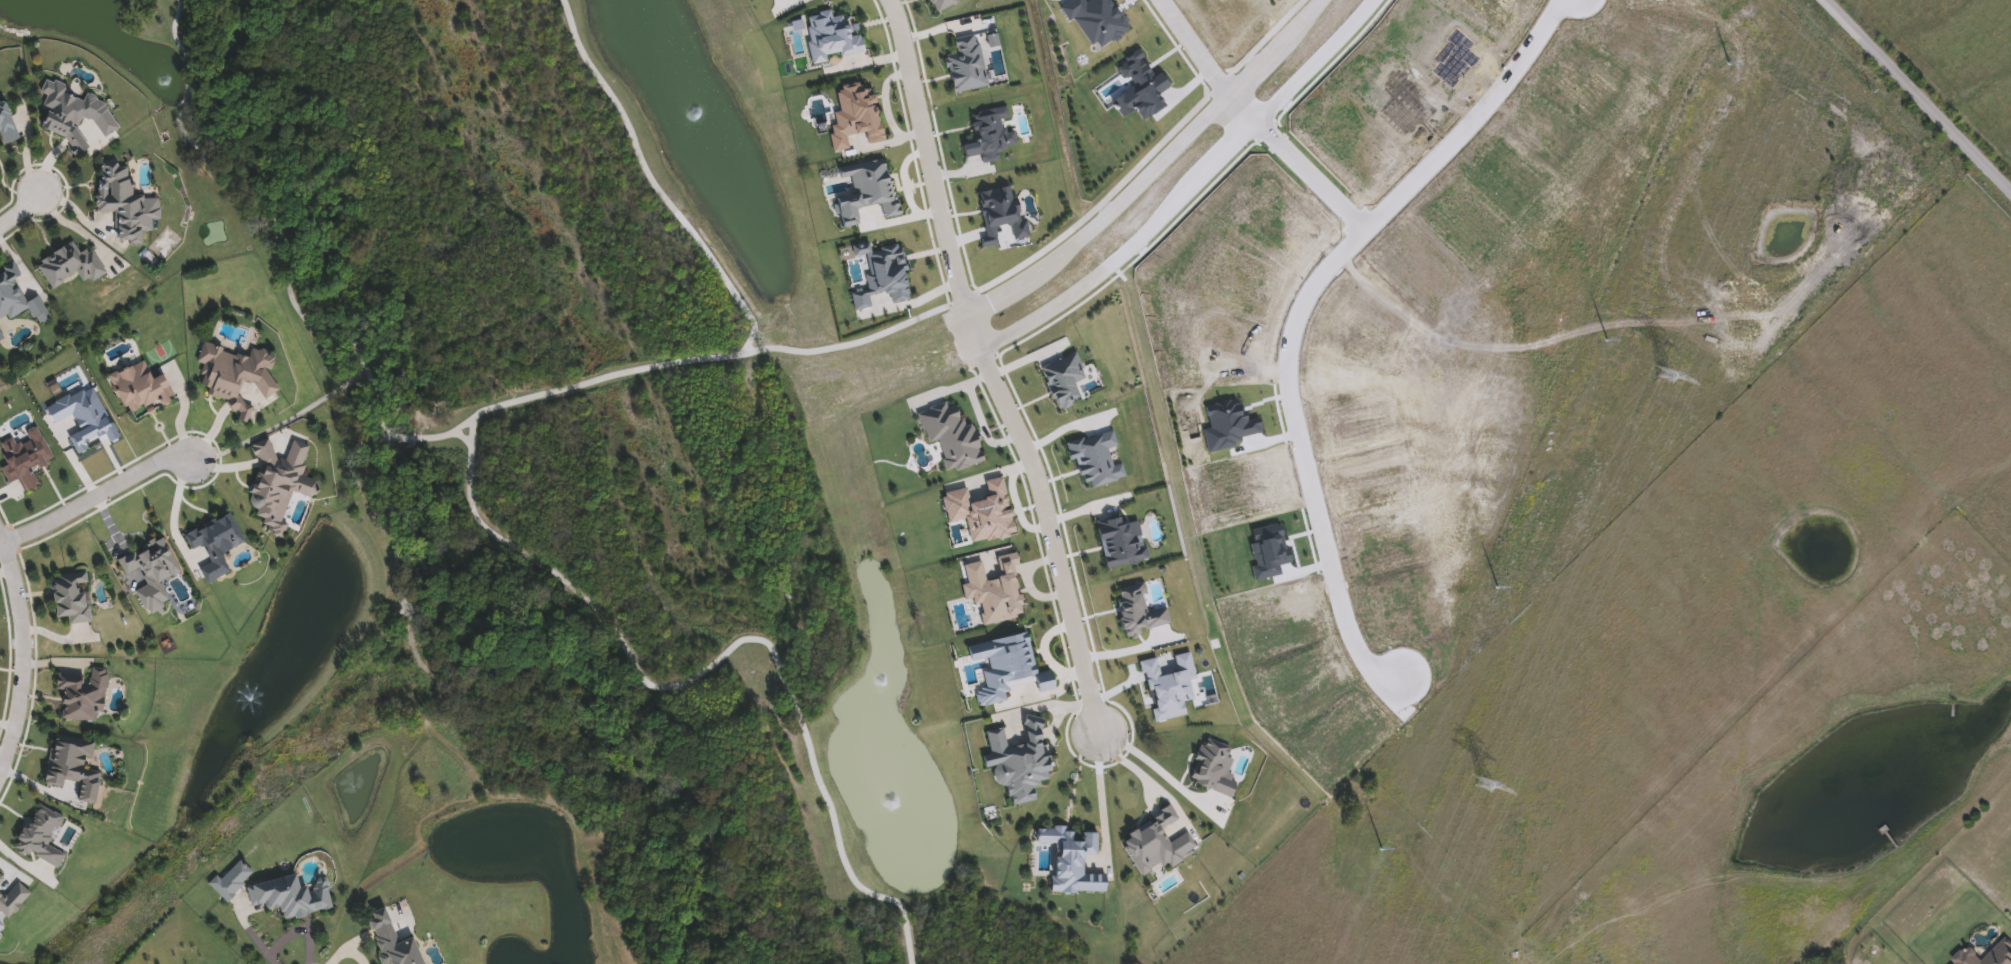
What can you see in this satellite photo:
road: (1197, 45)
fountain: (154, 61)
road: (1315, 62)
power tower: (1728, 72)
road: (1918, 95)
building: (76, 116)
fountain: (697, 116)
building: (7, 123)
road: (24, 150)
road: (1152, 167)
road: (1417, 174)
building: (127, 202)
road: (19, 213)
road: (80, 216)
road: (74, 228)
road: (1140, 231)
building: (71, 265)
building: (18, 300)
power tower: (1606, 349)
road: (990, 366)
building: (237, 371)
power tower: (1662, 375)
building: (142, 388)
road: (1299, 448)
road: (96, 497)
building: (1381, 504)
power tower: (1497, 595)
building: (72, 598)
fountain: (302, 635)
road: (1129, 647)
road: (21, 649)
fountain: (885, 678)
building: (84, 696)
building: (76, 766)
road: (1154, 775)
road: (1136, 778)
power tower: (1480, 786)
road: (1093, 792)
fountain: (890, 796)
power tower: (1381, 857)
building: (292, 897)
road: (253, 937)
building: (396, 939)
building: (1999, 950)
building: (1521, 954)

